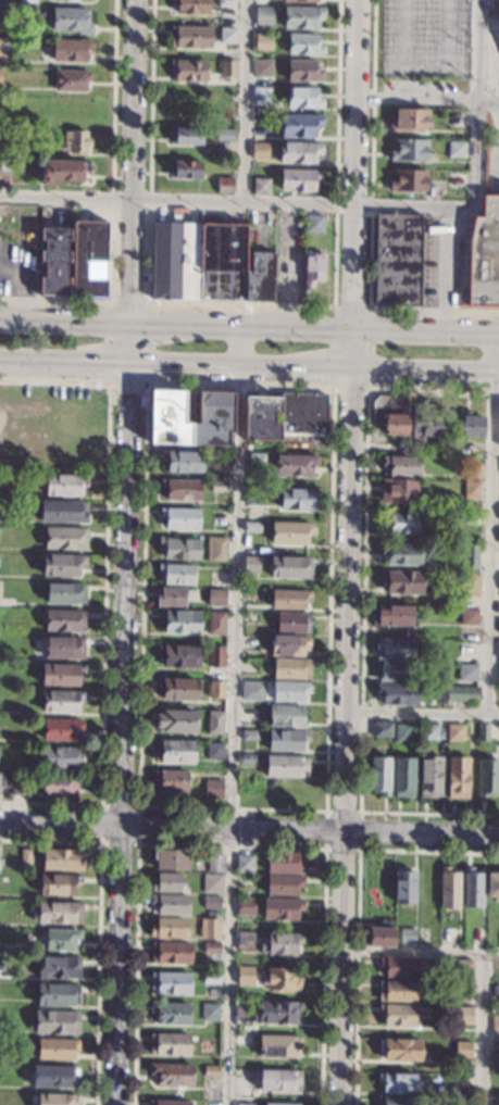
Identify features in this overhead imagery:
building: (65, 0)
building: (300, 0)
building: (225, 2)
building: (191, 7)
building: (498, 12)
building: (2, 14)
building: (262, 16)
building: (497, 16)
building: (301, 17)
building: (71, 21)
building: (227, 36)
building: (189, 37)
building: (263, 41)
building: (304, 45)
building: (1, 48)
building: (72, 49)
building: (226, 67)
building: (262, 68)
building: (188, 70)
building: (303, 71)
building: (1, 76)
building: (71, 79)
road: (414, 95)
building: (261, 96)
building: (303, 97)
road: (486, 98)
road: (242, 102)
building: (223, 103)
building: (1, 106)
building: (68, 109)
building: (409, 120)
building: (300, 125)
building: (225, 135)
building: (1, 136)
building: (185, 137)
building: (75, 141)
building: (456, 148)
building: (259, 150)
building: (409, 150)
building: (298, 152)
road: (494, 152)
building: (63, 171)
building: (184, 171)
building: (3, 173)
building: (299, 179)
building: (454, 179)
building: (408, 180)
road: (132, 184)
building: (223, 185)
building: (260, 186)
road: (351, 186)
road: (340, 205)
building: (313, 223)
building: (485, 255)
building: (89, 259)
building: (398, 260)
building: (197, 261)
building: (53, 262)
building: (312, 268)
road: (446, 271)
building: (260, 278)
road: (249, 327)
road: (65, 365)
road: (315, 373)
building: (214, 409)
building: (283, 415)
building: (390, 415)
building: (425, 423)
building: (471, 425)
building: (257, 457)
building: (184, 462)
building: (295, 465)
building: (401, 466)
building: (472, 472)
building: (64, 485)
building: (219, 487)
building: (180, 490)
building: (471, 490)
building: (398, 492)
building: (254, 495)
building: (299, 500)
building: (62, 512)
building: (217, 517)
building: (179, 518)
building: (401, 523)
road: (492, 524)
building: (251, 527)
building: (289, 532)
building: (64, 539)
building: (178, 548)
building: (216, 550)
building: (401, 554)
building: (467, 555)
building: (63, 564)
building: (251, 564)
building: (289, 567)
building: (176, 574)
building: (402, 582)
building: (469, 583)
building: (65, 593)
road: (126, 597)
building: (170, 598)
building: (215, 598)
building: (288, 599)
road: (347, 604)
building: (469, 615)
building: (392, 616)
building: (64, 620)
building: (179, 621)
building: (216, 623)
building: (292, 623)
building: (498, 626)
building: (289, 645)
building: (63, 648)
building: (395, 650)
building: (497, 651)
building: (466, 652)
building: (179, 656)
building: (215, 656)
building: (290, 669)
building: (397, 671)
building: (466, 671)
building: (61, 675)
building: (498, 676)
building: (178, 689)
building: (252, 689)
building: (214, 690)
building: (289, 691)
building: (398, 694)
building: (461, 694)
building: (498, 699)
building: (61, 702)
road: (422, 713)
road: (233, 715)
building: (286, 716)
building: (176, 721)
building: (215, 723)
building: (381, 729)
building: (61, 730)
building: (429, 731)
building: (454, 733)
building: (483, 733)
building: (249, 734)
building: (403, 734)
building: (285, 740)
building: (174, 751)
building: (214, 752)
building: (62, 757)
building: (246, 759)
building: (285, 766)
building: (379, 776)
building: (403, 778)
building: (429, 778)
building: (457, 778)
building: (4, 779)
building: (487, 779)
building: (170, 781)
building: (20, 786)
building: (60, 786)
building: (213, 789)
road: (61, 824)
road: (310, 833)
building: (25, 856)
building: (61, 861)
building: (171, 861)
building: (215, 863)
building: (284, 863)
building: (245, 864)
building: (169, 882)
building: (248, 882)
building: (212, 883)
building: (59, 884)
building: (492, 884)
building: (283, 886)
building: (403, 886)
building: (449, 889)
building: (472, 889)
building: (211, 903)
building: (170, 904)
building: (245, 907)
building: (280, 908)
building: (58, 913)
building: (166, 928)
building: (210, 929)
building: (378, 936)
building: (407, 936)
building: (448, 937)
building: (476, 938)
building: (61, 940)
building: (245, 941)
building: (279, 944)
building: (211, 947)
building: (171, 953)
road: (421, 956)
road: (120, 965)
building: (58, 966)
building: (398, 968)
road: (341, 969)
building: (463, 971)
building: (244, 976)
building: (210, 978)
building: (280, 980)
building: (170, 983)
building: (463, 990)
building: (396, 991)
building: (496, 993)
building: (58, 995)
building: (244, 1008)
building: (210, 1012)
building: (276, 1013)
building: (171, 1014)
building: (399, 1015)
building: (464, 1015)
building: (54, 1022)
building: (495, 1024)
road: (484, 1030)
building: (242, 1041)
building: (170, 1044)
building: (496, 1046)
building: (278, 1047)
building: (57, 1050)
building: (399, 1050)
building: (462, 1050)
building: (211, 1071)
building: (171, 1075)
building: (53, 1076)
building: (279, 1081)
building: (397, 1082)
building: (57, 1100)
building: (395, 1101)
building: (169, 1103)
building: (245, 1104)
building: (280, 1104)

